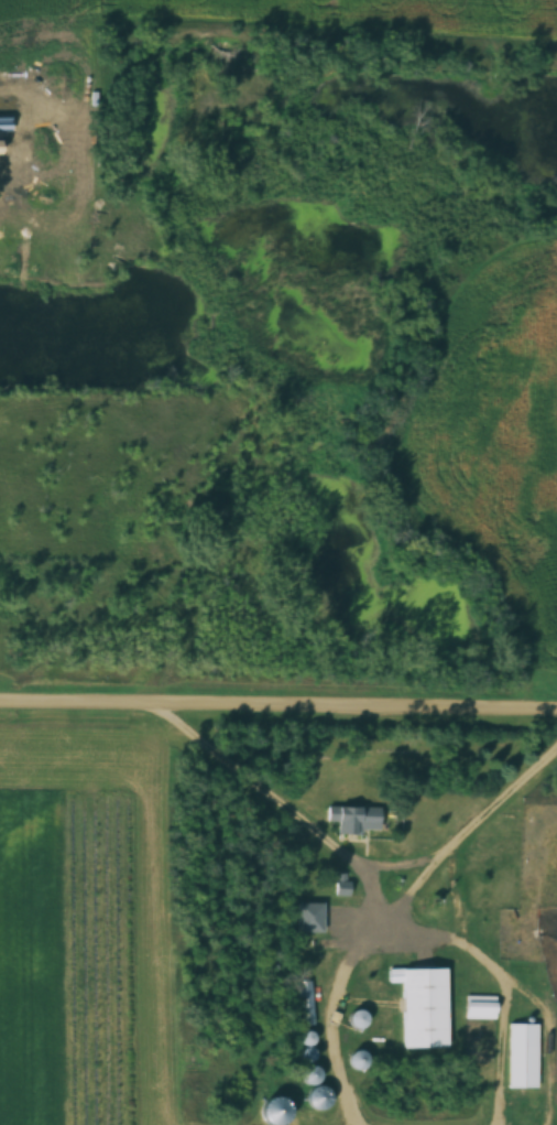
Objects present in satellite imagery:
road: (278, 713)
building: (353, 819)
building: (307, 917)
building: (304, 1002)
building: (423, 1007)
building: (478, 1007)
building: (353, 1017)
building: (307, 1052)
building: (521, 1054)
building: (354, 1059)
building: (307, 1074)
building: (317, 1097)

